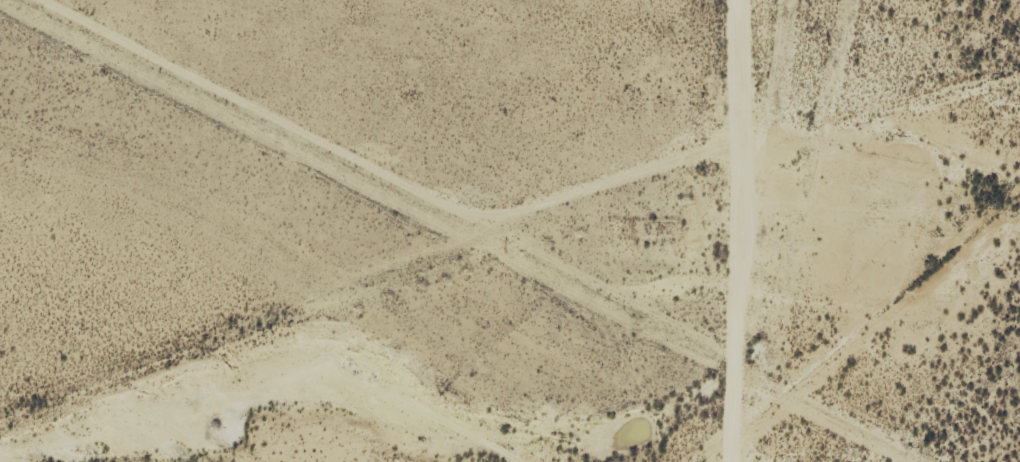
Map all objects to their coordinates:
road: (365, 167)
road: (731, 231)

